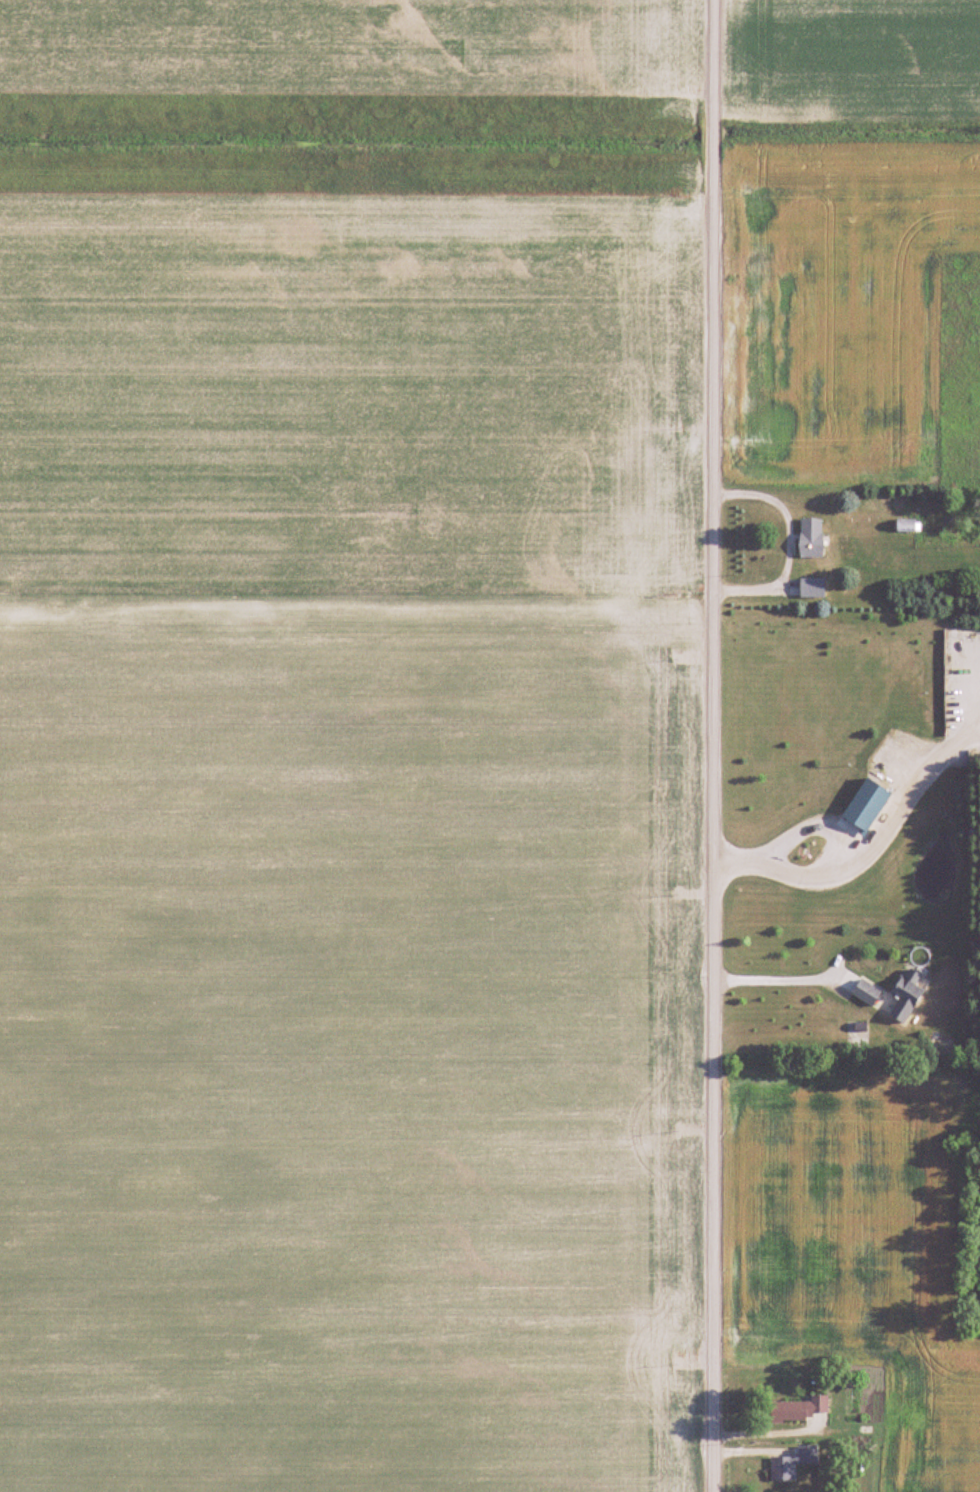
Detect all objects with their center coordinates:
building: (907, 527)
building: (810, 538)
road: (788, 541)
building: (811, 588)
road: (711, 746)
road: (851, 864)
road: (774, 981)
building: (865, 993)
building: (905, 996)
building: (798, 1411)
building: (792, 1464)

